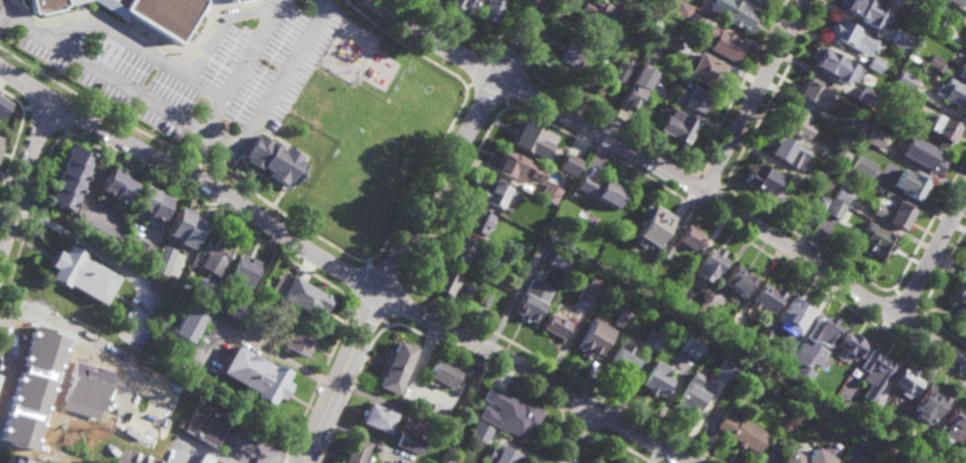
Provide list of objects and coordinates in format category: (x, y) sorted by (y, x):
building: (247, 0)
building: (507, 0)
building: (610, 0)
building: (895, 0)
building: (759, 1)
building: (957, 2)
building: (464, 4)
building: (51, 5)
building: (492, 9)
building: (682, 9)
building: (597, 12)
building: (865, 12)
building: (162, 13)
building: (649, 13)
building: (739, 15)
building: (844, 32)
building: (955, 35)
road: (469, 37)
building: (670, 40)
building: (900, 41)
building: (722, 42)
building: (607, 43)
road: (492, 46)
building: (570, 53)
road: (508, 58)
building: (827, 61)
building: (936, 62)
road: (527, 65)
building: (875, 65)
road: (242, 66)
road: (482, 66)
building: (707, 70)
building: (963, 71)
building: (620, 72)
building: (643, 76)
road: (515, 82)
building: (907, 84)
road: (469, 85)
building: (896, 89)
road: (489, 91)
building: (814, 92)
building: (956, 94)
road: (754, 96)
building: (634, 97)
building: (693, 98)
building: (905, 98)
road: (15, 99)
building: (864, 99)
road: (507, 103)
building: (3, 106)
road: (499, 113)
road: (48, 116)
building: (795, 121)
building: (676, 125)
road: (192, 126)
building: (857, 127)
building: (942, 129)
road: (66, 131)
building: (531, 140)
building: (876, 141)
building: (1, 142)
building: (782, 149)
road: (660, 150)
road: (12, 152)
road: (197, 154)
building: (925, 154)
building: (841, 156)
building: (273, 161)
building: (509, 164)
building: (569, 164)
building: (863, 167)
road: (697, 171)
road: (673, 175)
building: (70, 178)
building: (764, 180)
building: (824, 183)
building: (912, 183)
building: (118, 187)
road: (27, 188)
building: (602, 191)
building: (494, 194)
building: (843, 194)
building: (550, 195)
road: (206, 202)
building: (818, 202)
building: (152, 203)
building: (837, 210)
building: (895, 214)
building: (524, 221)
building: (478, 222)
building: (655, 226)
road: (416, 228)
building: (183, 229)
building: (98, 232)
building: (878, 239)
building: (689, 240)
road: (333, 244)
road: (92, 249)
building: (506, 249)
building: (142, 250)
building: (463, 250)
building: (666, 251)
building: (215, 256)
road: (932, 258)
building: (162, 261)
building: (559, 261)
road: (368, 263)
building: (711, 265)
building: (965, 267)
road: (340, 270)
building: (638, 271)
building: (81, 275)
road: (385, 275)
building: (243, 276)
building: (492, 277)
road: (361, 281)
building: (444, 281)
building: (740, 281)
road: (406, 282)
building: (186, 284)
building: (960, 294)
building: (589, 295)
road: (351, 297)
building: (485, 298)
building: (767, 298)
building: (313, 300)
road: (393, 301)
building: (532, 301)
building: (677, 302)
building: (243, 305)
road: (369, 307)
building: (232, 310)
building: (795, 316)
building: (623, 319)
building: (702, 320)
building: (737, 320)
road: (385, 323)
building: (585, 325)
building: (188, 326)
building: (557, 327)
building: (824, 331)
road: (431, 339)
building: (653, 339)
building: (301, 340)
building: (595, 340)
building: (765, 340)
road: (262, 346)
building: (693, 346)
building: (851, 346)
building: (755, 356)
building: (624, 361)
building: (806, 361)
building: (726, 367)
building: (394, 368)
building: (62, 372)
building: (876, 373)
building: (442, 376)
building: (257, 377)
building: (819, 379)
building: (658, 380)
building: (906, 383)
building: (496, 398)
building: (692, 400)
building: (839, 406)
building: (930, 406)
road: (564, 409)
building: (872, 416)
road: (582, 417)
building: (376, 418)
building: (521, 419)
building: (957, 424)
building: (206, 425)
building: (27, 428)
building: (901, 428)
road: (598, 431)
building: (742, 432)
building: (936, 432)
building: (479, 433)
road: (579, 433)
road: (610, 438)
building: (410, 442)
building: (356, 450)
road: (203, 451)
building: (84, 452)
building: (503, 456)
building: (808, 456)
building: (18, 459)
building: (207, 459)
building: (956, 459)
building: (451, 460)
building: (850, 461)
building: (614, 462)
building: (620, 462)

